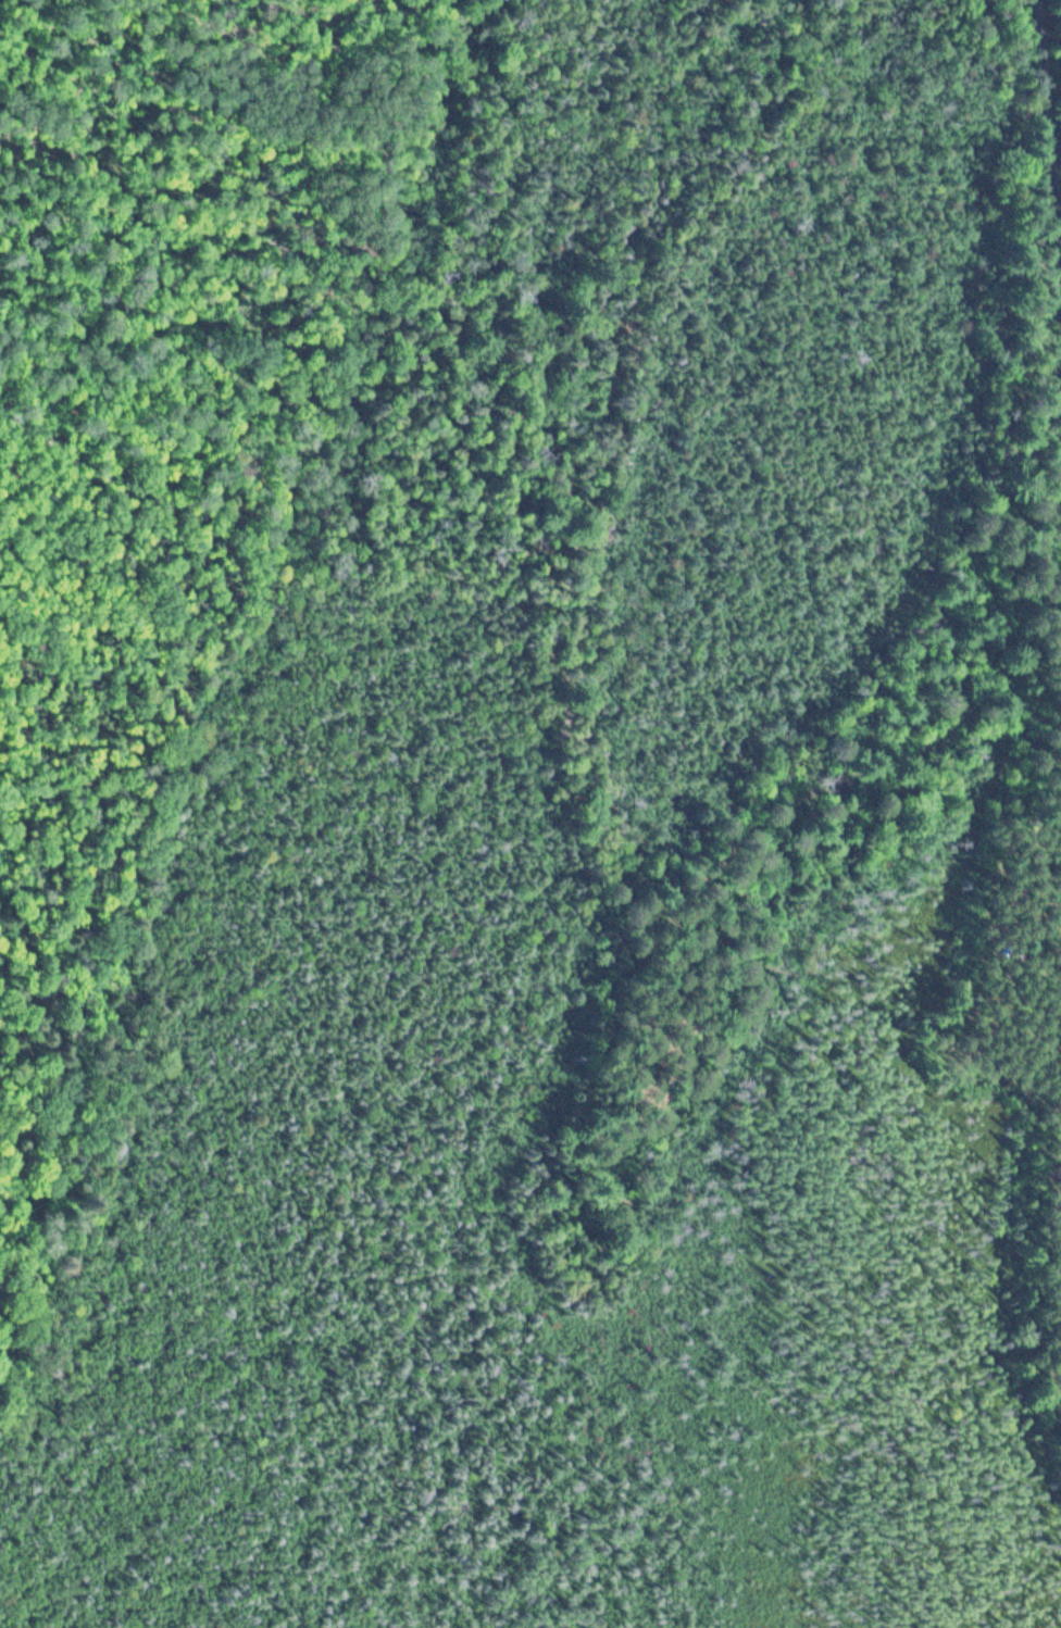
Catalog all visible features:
railway: (1048, 142)

